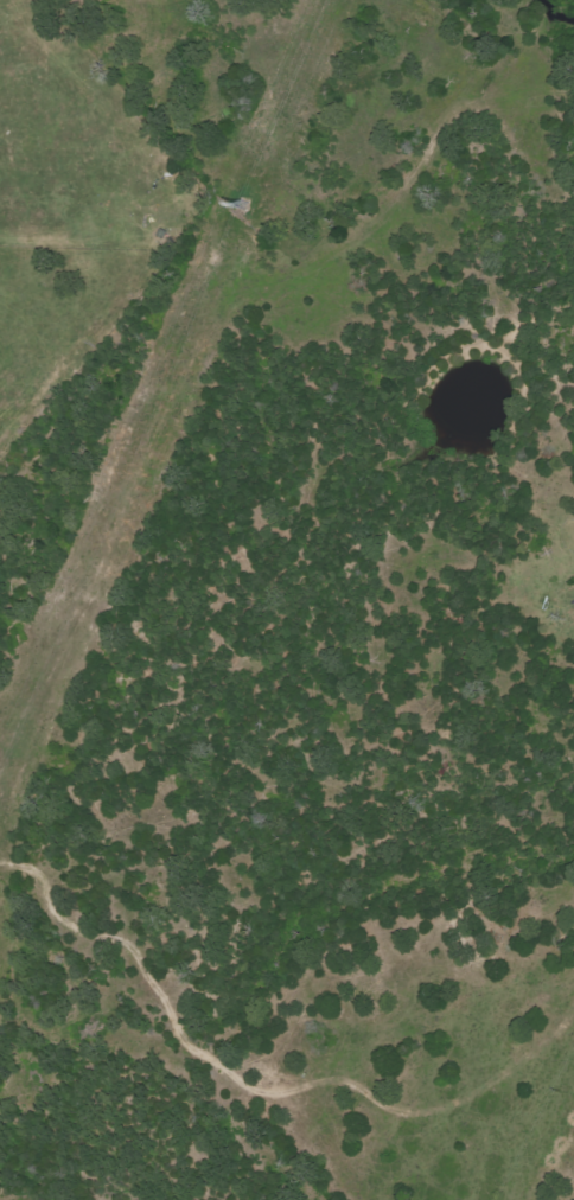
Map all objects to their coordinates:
power tower: (242, 205)

